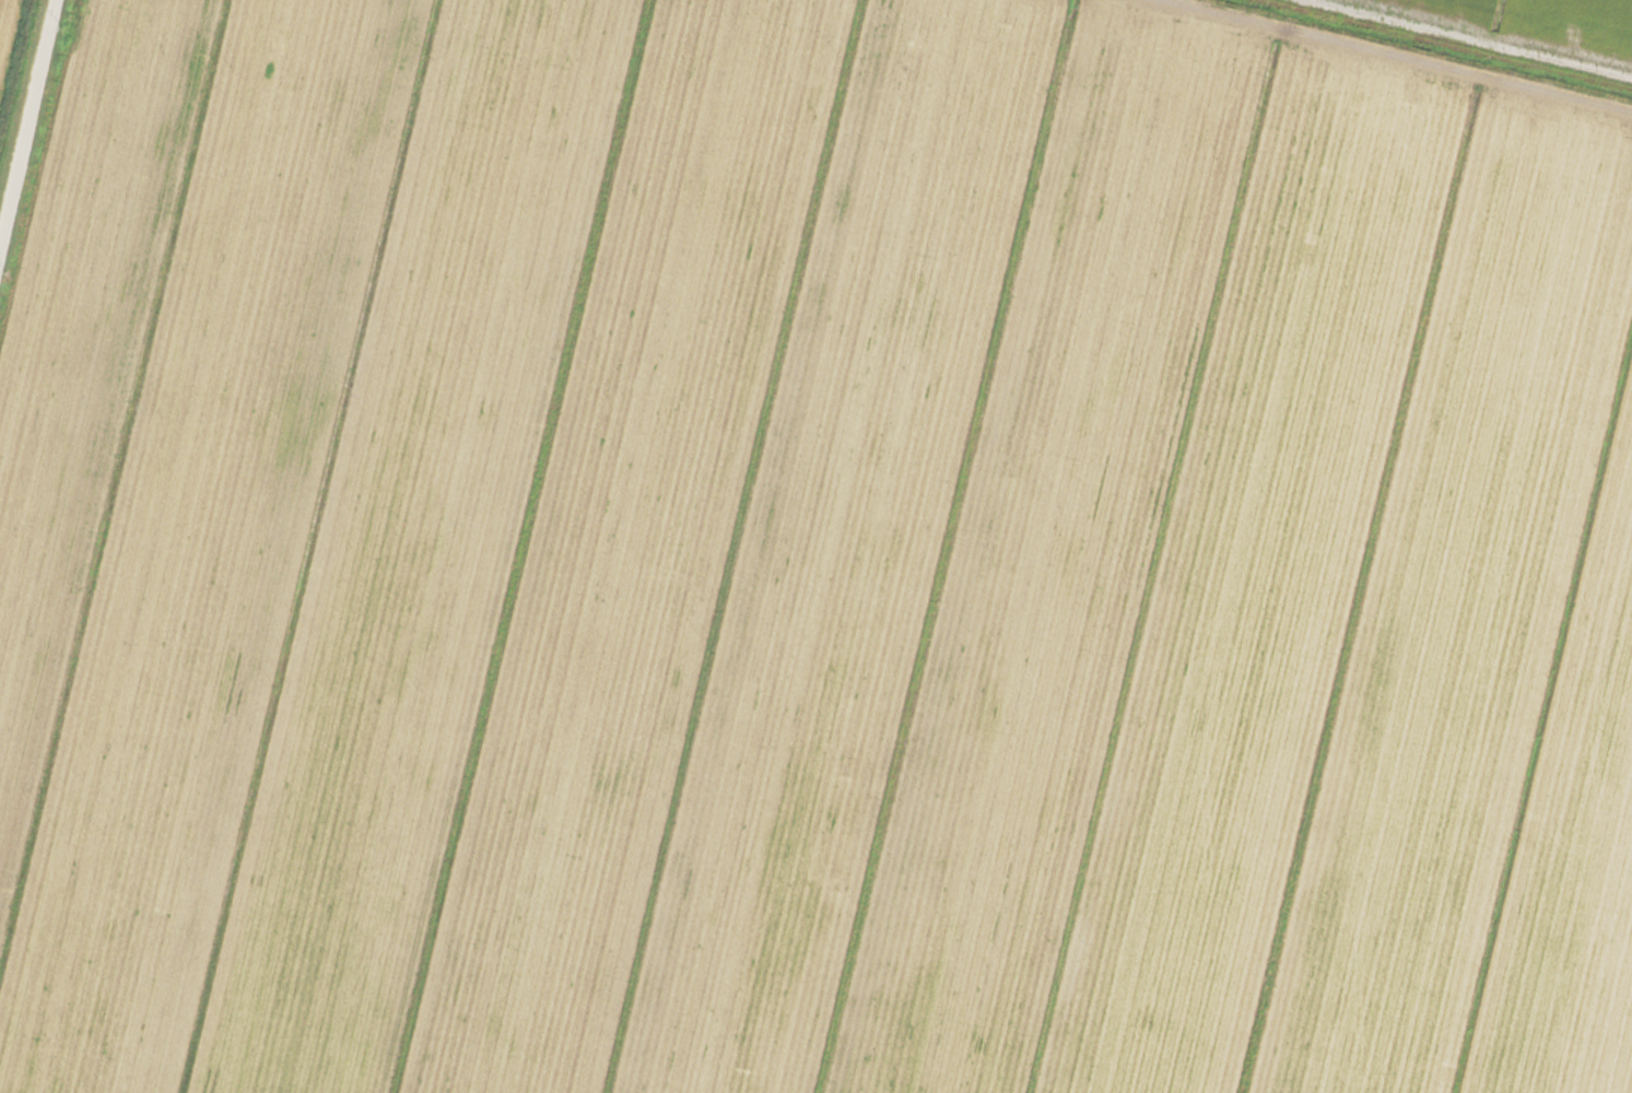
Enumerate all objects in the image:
road: (1475, 36)
road: (27, 119)

